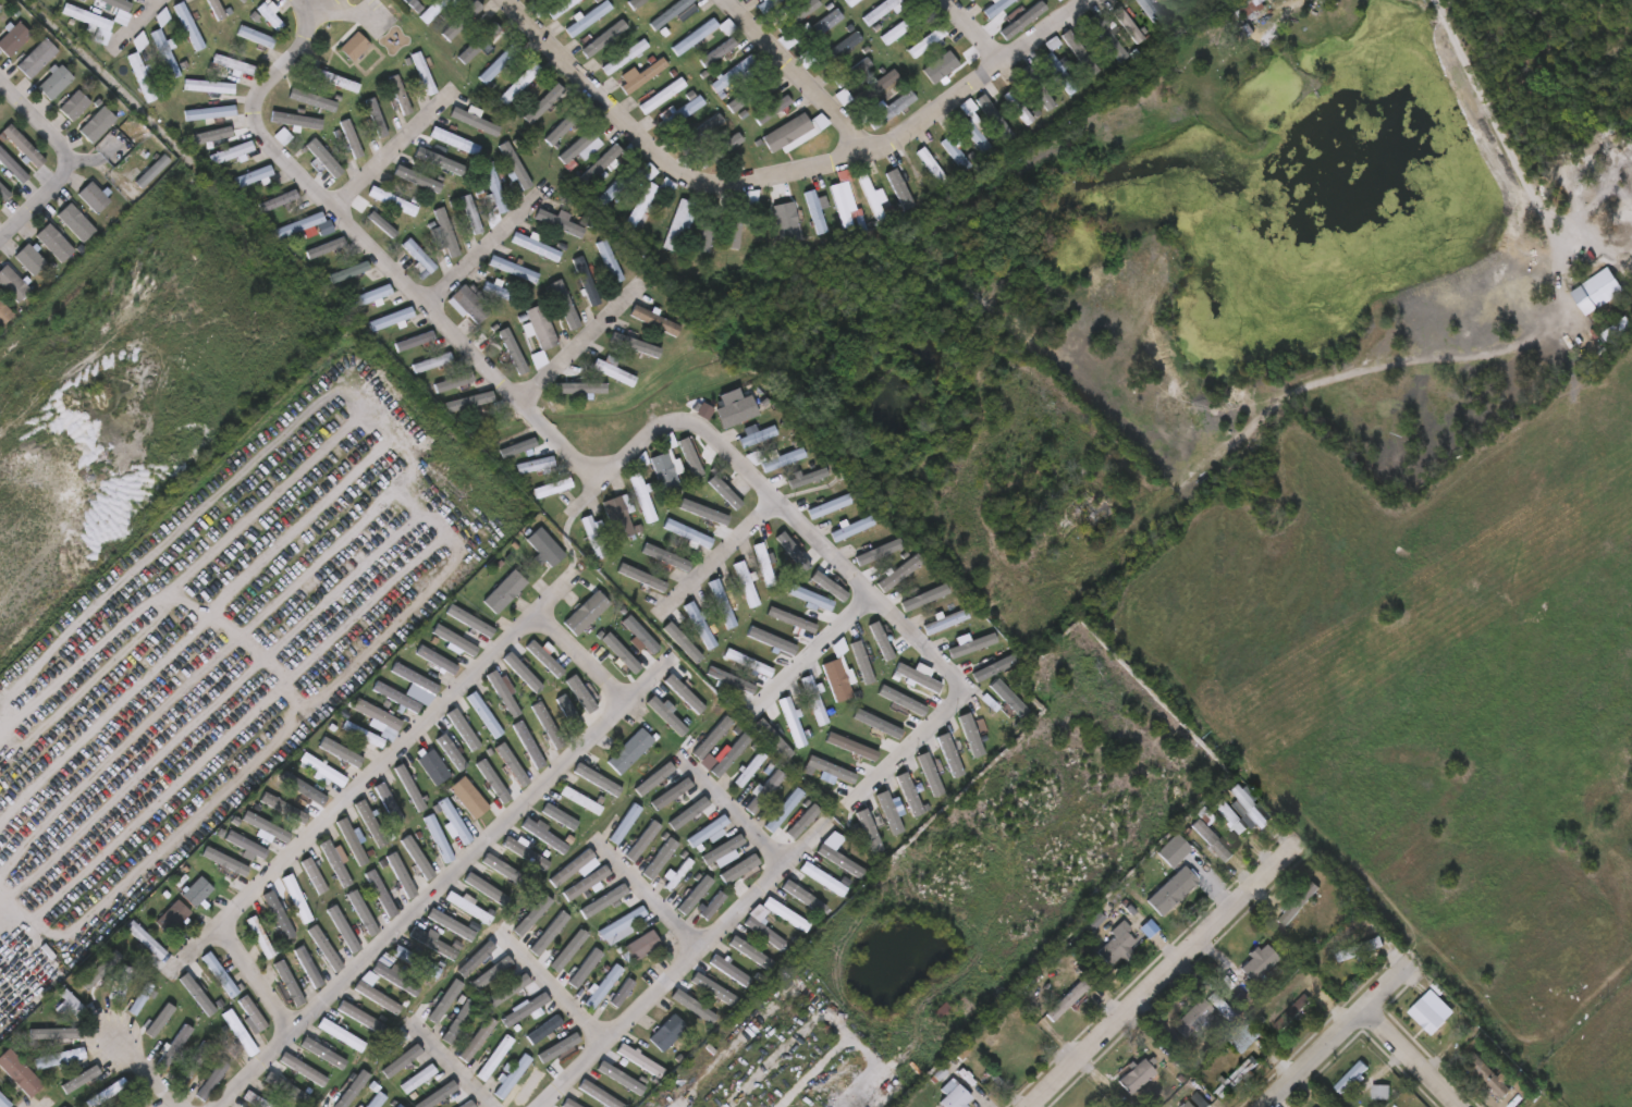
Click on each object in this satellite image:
building: (249, 0)
building: (533, 0)
building: (969, 0)
building: (850, 2)
building: (636, 3)
building: (115, 4)
building: (769, 4)
building: (1183, 4)
building: (414, 5)
building: (552, 8)
building: (996, 8)
building: (0, 9)
building: (1252, 9)
building: (434, 10)
building: (882, 10)
road: (322, 11)
building: (1150, 11)
building: (671, 14)
building: (587, 17)
building: (270, 19)
building: (1019, 21)
building: (89, 24)
building: (1128, 25)
building: (187, 26)
building: (905, 26)
road: (138, 27)
building: (817, 28)
road: (969, 33)
building: (702, 34)
building: (255, 37)
building: (13, 39)
building: (925, 42)
building: (483, 44)
building: (355, 47)
building: (838, 50)
building: (164, 52)
building: (1084, 54)
building: (624, 57)
building: (35, 59)
building: (943, 64)
building: (234, 65)
building: (500, 65)
building: (140, 70)
road: (790, 73)
building: (1063, 73)
building: (425, 75)
building: (643, 75)
building: (734, 75)
building: (335, 81)
building: (53, 82)
building: (519, 85)
building: (611, 86)
building: (208, 87)
road: (1022, 89)
building: (750, 95)
building: (662, 96)
building: (310, 100)
building: (905, 100)
building: (542, 103)
building: (73, 106)
building: (682, 112)
building: (209, 113)
building: (297, 122)
building: (95, 126)
building: (786, 133)
building: (207, 135)
road: (52, 136)
building: (977, 137)
building: (352, 138)
building: (455, 143)
building: (21, 146)
building: (732, 148)
building: (956, 152)
building: (232, 153)
road: (389, 157)
building: (439, 159)
building: (610, 161)
building: (932, 165)
building: (11, 169)
building: (151, 171)
road: (778, 172)
building: (256, 177)
building: (627, 181)
building: (3, 194)
building: (492, 194)
building: (91, 197)
building: (871, 198)
building: (396, 200)
building: (649, 200)
building: (839, 206)
building: (814, 212)
road: (23, 217)
building: (71, 218)
building: (739, 219)
building: (300, 225)
building: (676, 226)
building: (445, 233)
building: (53, 242)
building: (535, 245)
building: (327, 249)
road: (481, 250)
road: (373, 254)
building: (419, 256)
building: (27, 260)
building: (512, 269)
building: (349, 274)
building: (584, 281)
building: (11, 284)
building: (499, 293)
building: (369, 297)
building: (467, 310)
building: (3, 313)
building: (391, 320)
building: (653, 320)
building: (541, 333)
road: (581, 342)
building: (415, 343)
road: (1458, 355)
building: (432, 365)
building: (615, 371)
building: (461, 384)
building: (757, 438)
building: (781, 459)
building: (640, 463)
building: (535, 465)
building: (666, 466)
building: (552, 488)
building: (641, 496)
building: (829, 505)
building: (709, 509)
building: (1081, 514)
building: (616, 517)
building: (850, 527)
road: (186, 528)
building: (687, 533)
building: (592, 536)
road: (453, 540)
building: (544, 545)
road: (831, 555)
road: (716, 559)
building: (762, 563)
building: (746, 582)
building: (504, 591)
building: (811, 596)
building: (722, 602)
building: (586, 613)
building: (947, 620)
building: (473, 623)
building: (699, 623)
road: (811, 655)
road: (584, 656)
building: (434, 659)
building: (747, 661)
building: (838, 673)
building: (413, 677)
building: (394, 696)
building: (685, 696)
building: (814, 698)
building: (569, 712)
building: (378, 717)
building: (484, 717)
building: (547, 725)
building: (363, 735)
building: (774, 735)
building: (711, 737)
building: (450, 745)
building: (528, 745)
building: (629, 751)
building: (729, 753)
building: (512, 764)
building: (432, 766)
building: (749, 768)
building: (322, 770)
building: (304, 788)
building: (764, 790)
road: (353, 795)
building: (468, 798)
building: (580, 800)
building: (388, 803)
building: (1250, 809)
road: (736, 812)
building: (560, 815)
building: (1231, 816)
building: (453, 821)
building: (626, 824)
building: (371, 825)
building: (265, 827)
building: (707, 829)
building: (543, 834)
building: (437, 838)
building: (1213, 839)
building: (352, 842)
building: (245, 845)
building: (720, 850)
building: (1173, 850)
building: (527, 854)
building: (573, 868)
building: (398, 873)
building: (314, 875)
building: (496, 876)
building: (822, 878)
building: (1202, 882)
building: (586, 883)
road: (441, 886)
building: (1169, 887)
building: (196, 891)
building: (380, 893)
road: (648, 896)
building: (296, 898)
road: (5, 902)
building: (1298, 903)
building: (467, 907)
building: (713, 908)
road: (5, 912)
building: (785, 914)
building: (280, 915)
building: (171, 917)
building: (622, 925)
building: (341, 926)
building: (763, 931)
building: (259, 937)
building: (434, 945)
building: (640, 947)
building: (1119, 947)
building: (326, 948)
building: (1359, 949)
building: (748, 955)
building: (1260, 963)
building: (418, 964)
building: (308, 967)
road: (688, 967)
building: (587, 969)
building: (729, 970)
building: (492, 973)
building: (218, 974)
building: (394, 977)
road: (1158, 980)
building: (121, 984)
building: (604, 986)
road: (552, 988)
building: (623, 996)
building: (378, 997)
building: (1068, 1003)
building: (690, 1005)
building: (1222, 1006)
building: (524, 1009)
building: (938, 1010)
building: (1292, 1012)
building: (253, 1013)
building: (1426, 1016)
building: (360, 1017)
building: (1193, 1018)
building: (543, 1029)
building: (666, 1032)
building: (342, 1035)
building: (1246, 1037)
road: (1328, 1038)
building: (477, 1040)
building: (172, 1046)
building: (388, 1046)
road: (1413, 1057)
building: (58, 1058)
building: (494, 1058)
building: (1014, 1059)
building: (640, 1060)
building: (405, 1061)
building: (192, 1065)
road: (449, 1065)
building: (307, 1069)
building: (17, 1073)
road: (146, 1073)
building: (1489, 1075)
building: (514, 1077)
building: (1137, 1077)
building: (1239, 1077)
building: (1352, 1077)
building: (417, 1078)
building: (211, 1080)
building: (1522, 1086)
building: (110, 1093)
building: (599, 1094)
building: (953, 1095)
building: (258, 1099)
building: (378, 1100)
building: (1195, 1100)
building: (3, 1103)
building: (136, 1103)
building: (570, 1104)
building: (470, 1105)
building: (61, 1106)
building: (400, 1106)
building: (1550, 1106)

